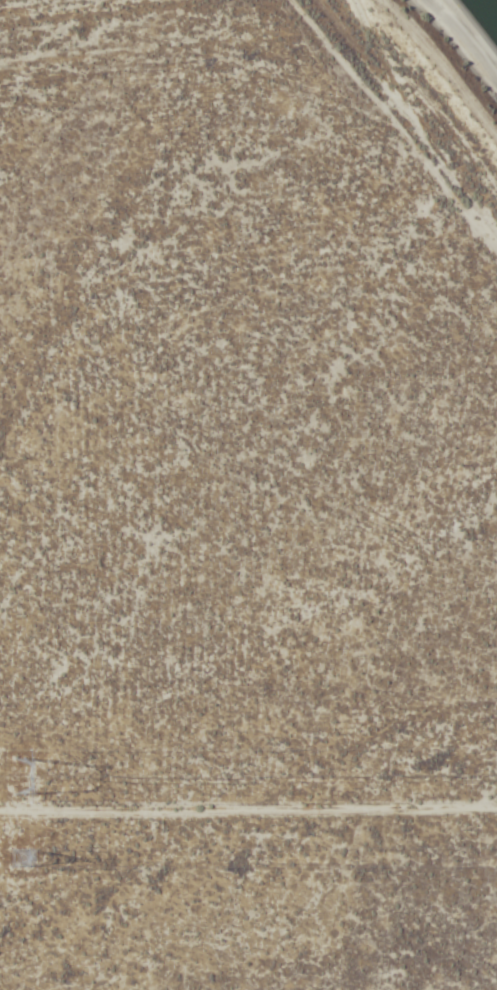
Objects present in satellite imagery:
road: (457, 49)
power tower: (29, 779)
power tower: (17, 867)

